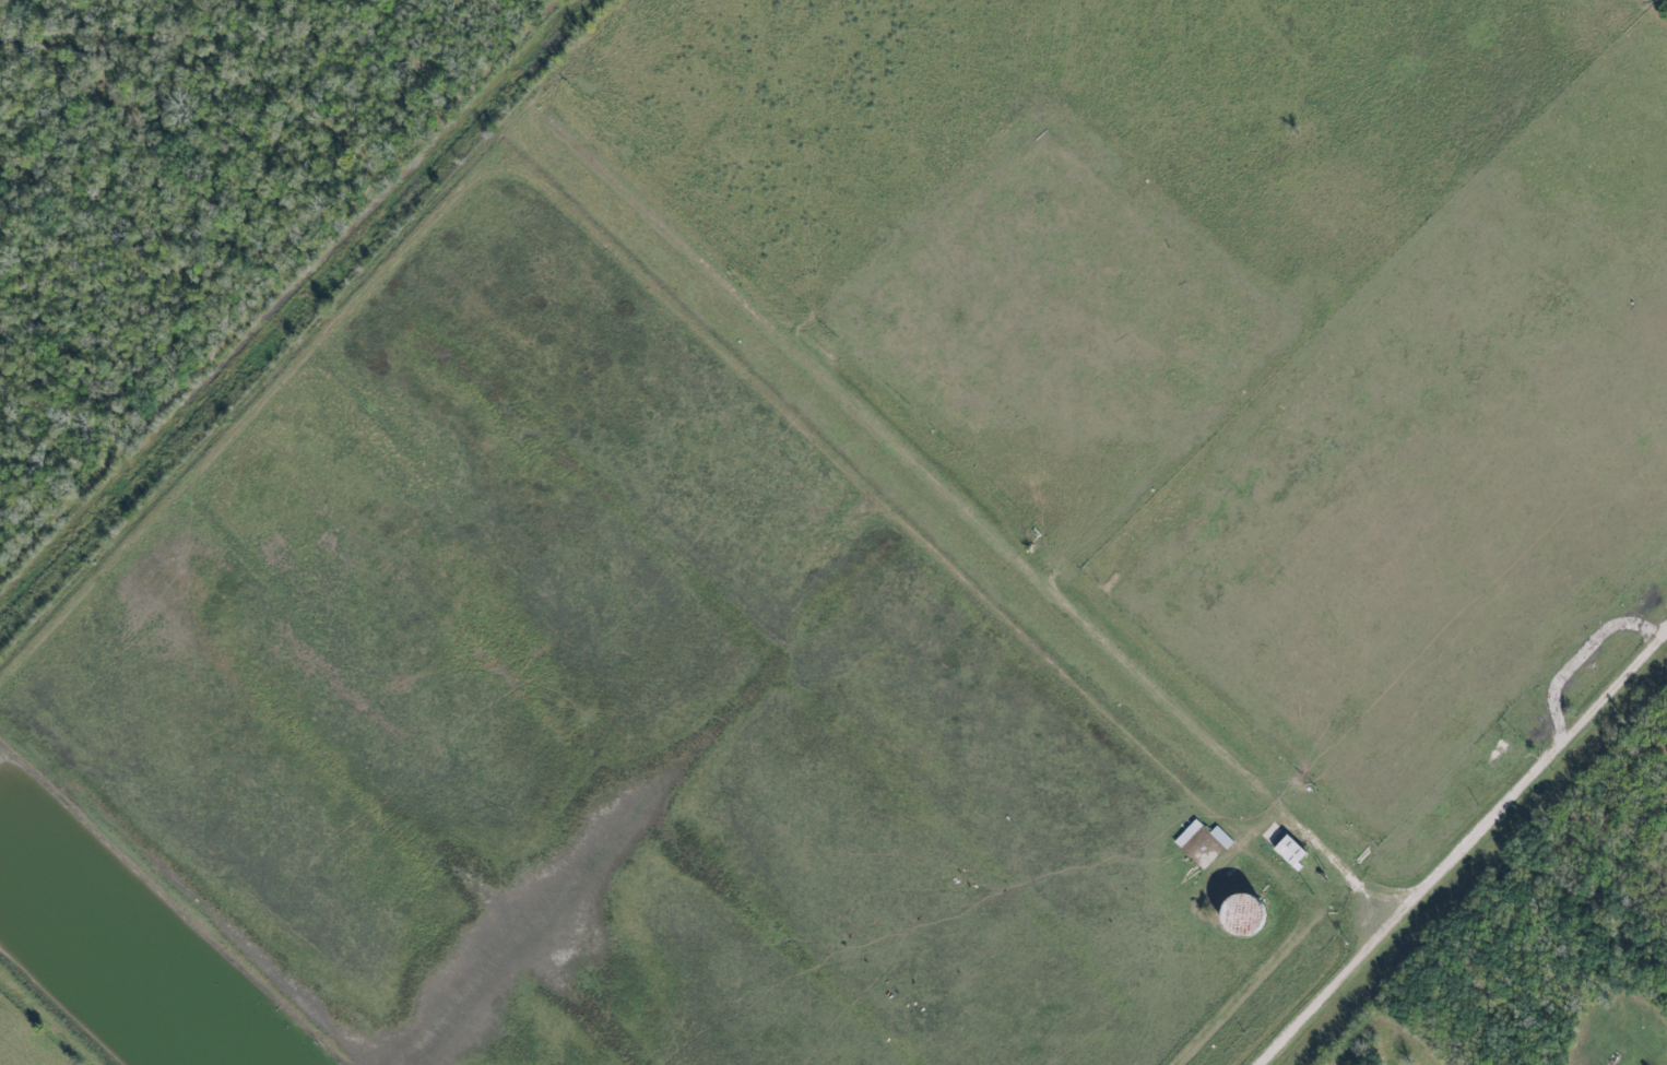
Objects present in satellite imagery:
road: (981, 524)
building: (1186, 832)
building: (1220, 837)
building: (1202, 848)
building: (1290, 851)
road: (1466, 853)
building: (1242, 914)

